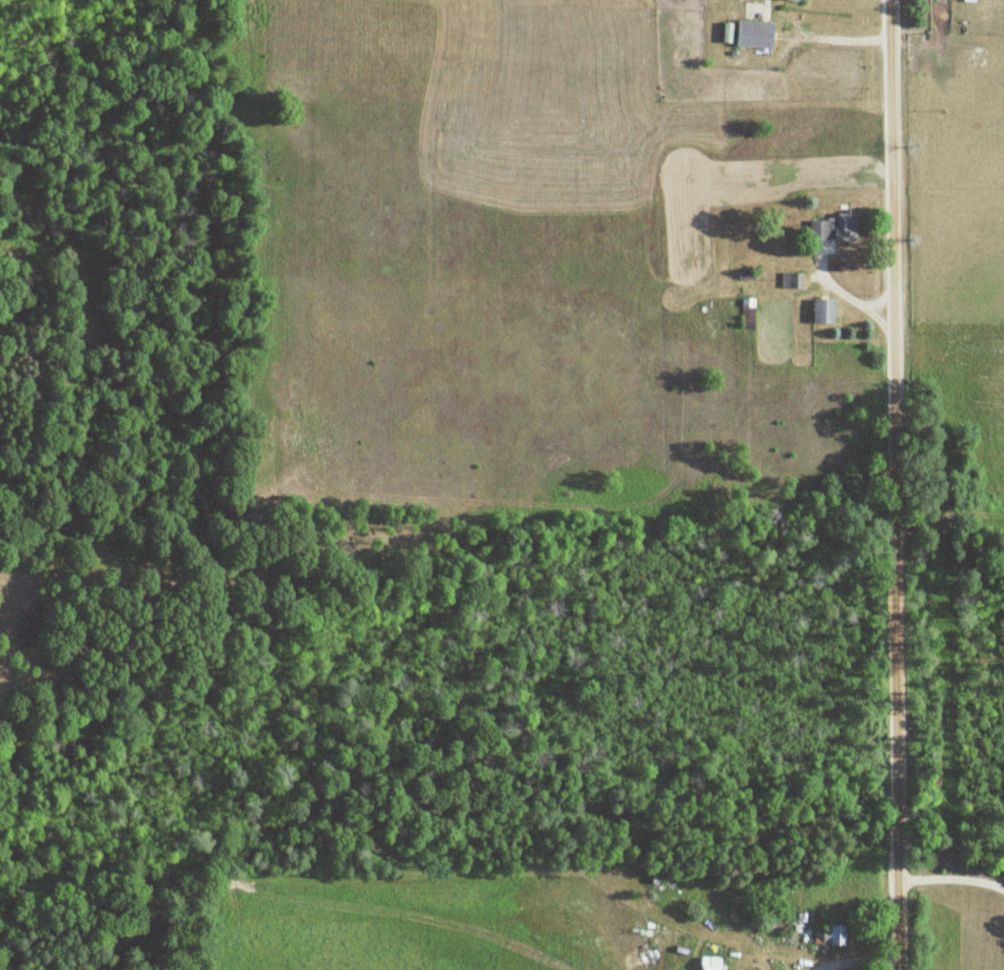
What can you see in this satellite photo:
building: (758, 33)
building: (836, 227)
building: (827, 311)
road: (892, 484)
road: (951, 876)
building: (836, 934)
building: (713, 963)

